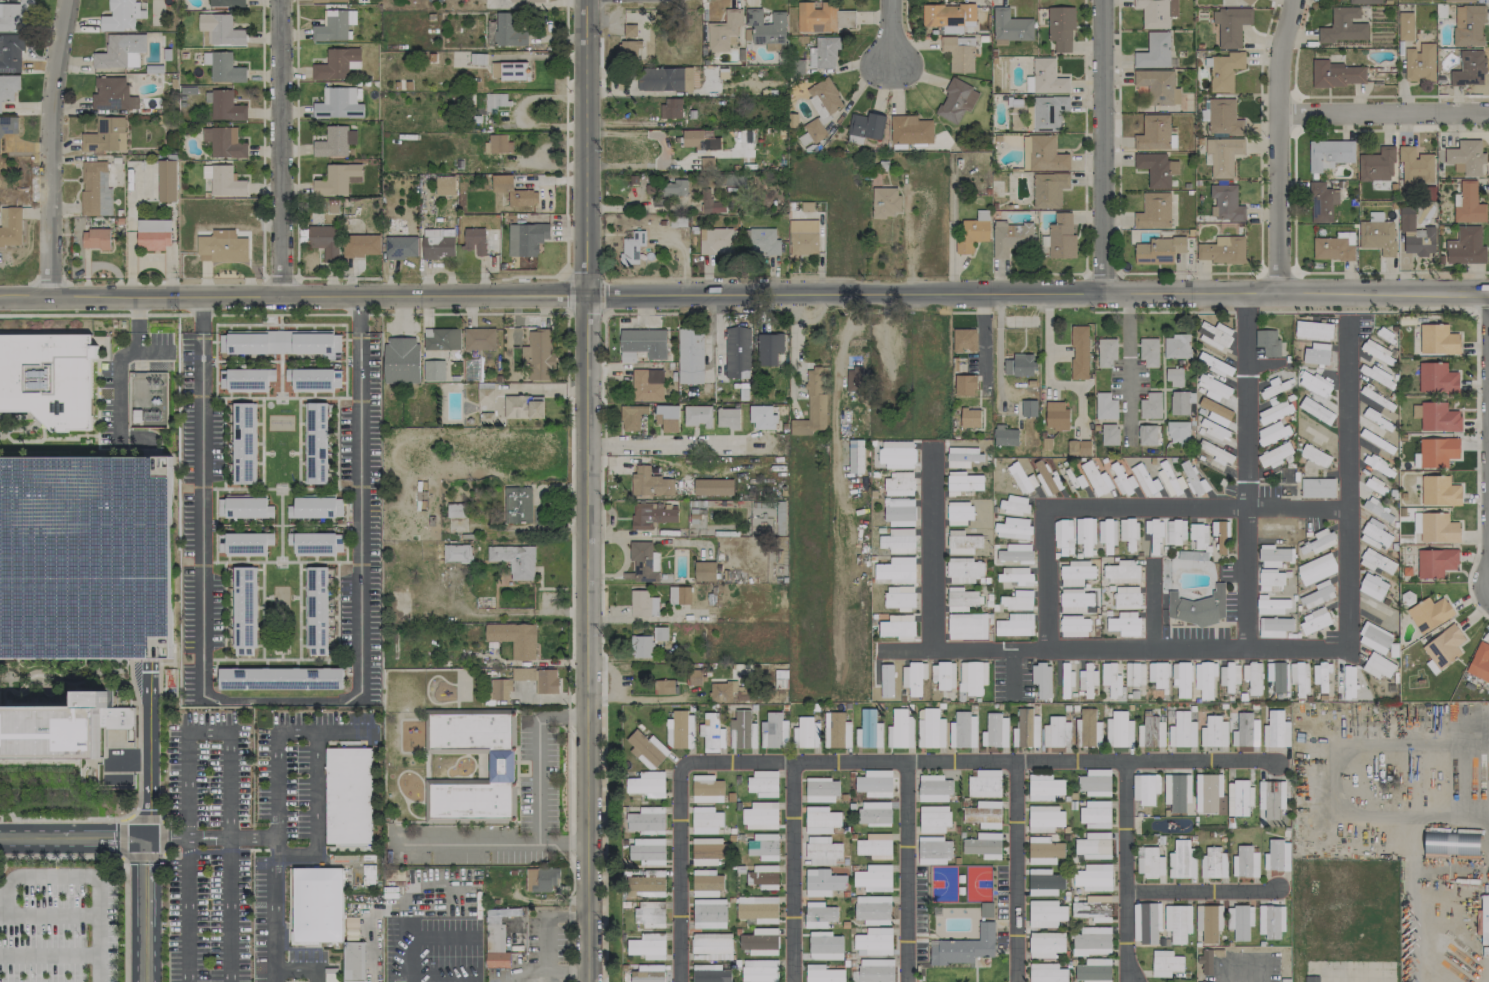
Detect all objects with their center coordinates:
building: (527, 0)
building: (1458, 0)
building: (330, 1)
building: (1364, 2)
building: (226, 3)
building: (1156, 12)
building: (14, 15)
building: (122, 15)
building: (948, 15)
building: (816, 17)
building: (845, 18)
building: (334, 25)
building: (1231, 25)
building: (1406, 25)
building: (1468, 25)
building: (1344, 26)
building: (1011, 27)
building: (1061, 28)
building: (221, 29)
building: (767, 29)
building: (630, 30)
building: (508, 31)
building: (724, 31)
road: (889, 36)
building: (121, 51)
building: (1154, 51)
building: (11, 53)
building: (823, 53)
building: (958, 55)
building: (1420, 62)
building: (337, 64)
building: (223, 67)
building: (1469, 69)
building: (508, 70)
building: (1225, 71)
building: (1337, 74)
building: (1047, 77)
building: (664, 79)
building: (1158, 86)
building: (8, 87)
building: (112, 94)
building: (824, 97)
road: (1343, 98)
building: (496, 100)
building: (956, 101)
building: (338, 104)
building: (224, 106)
building: (671, 107)
road: (1383, 109)
building: (1049, 112)
building: (1224, 117)
building: (1029, 119)
building: (8, 125)
building: (866, 125)
building: (814, 129)
building: (910, 129)
building: (1153, 133)
building: (105, 136)
building: (700, 140)
building: (334, 141)
building: (224, 142)
building: (497, 143)
road: (1277, 145)
road: (50, 147)
road: (585, 147)
road: (1100, 148)
road: (663, 150)
road: (279, 151)
building: (1042, 154)
building: (1329, 154)
building: (1222, 156)
building: (1466, 157)
building: (1377, 165)
building: (1416, 167)
building: (1154, 168)
building: (337, 179)
building: (166, 180)
building: (734, 180)
building: (223, 181)
building: (445, 185)
building: (95, 189)
building: (1049, 189)
building: (513, 191)
building: (666, 191)
building: (1321, 201)
building: (710, 202)
building: (886, 202)
building: (1225, 203)
building: (1468, 204)
building: (1154, 211)
building: (1375, 216)
building: (10, 226)
building: (1415, 233)
building: (153, 234)
building: (971, 234)
building: (803, 236)
building: (1061, 236)
building: (1346, 236)
building: (1377, 236)
building: (1010, 237)
building: (95, 238)
building: (526, 238)
building: (474, 240)
building: (324, 241)
building: (716, 241)
building: (762, 241)
building: (438, 243)
building: (361, 245)
building: (1466, 246)
building: (222, 247)
building: (401, 247)
building: (632, 247)
building: (1332, 249)
building: (1159, 250)
building: (1222, 250)
road: (10, 292)
road: (1036, 295)
road: (10, 298)
road: (302, 301)
road: (1041, 305)
road: (566, 311)
road: (1162, 311)
road: (970, 312)
road: (1247, 312)
road: (144, 314)
road: (846, 330)
building: (1313, 330)
building: (1215, 335)
building: (441, 338)
building: (479, 338)
road: (603, 338)
building: (964, 340)
building: (1438, 340)
building: (279, 342)
building: (1268, 342)
building: (642, 344)
building: (1177, 346)
road: (998, 347)
building: (768, 348)
building: (737, 352)
road: (1050, 352)
building: (1079, 352)
building: (1106, 352)
building: (1149, 352)
building: (538, 354)
building: (1317, 354)
building: (690, 355)
road: (1131, 355)
building: (401, 360)
road: (115, 363)
road: (1476, 363)
building: (1019, 365)
building: (433, 370)
road: (278, 375)
building: (1175, 377)
building: (48, 378)
building: (1437, 378)
building: (247, 379)
building: (314, 379)
building: (854, 379)
parking lot: (124, 381)
building: (1315, 384)
building: (647, 385)
building: (965, 385)
building: (485, 392)
road: (279, 397)
building: (1181, 402)
building: (813, 403)
building: (1105, 406)
building: (1151, 406)
building: (522, 407)
building: (1029, 408)
building: (698, 415)
road: (24, 416)
building: (632, 416)
building: (1056, 416)
building: (667, 417)
building: (762, 417)
building: (970, 417)
building: (1439, 417)
building: (727, 418)
building: (147, 419)
road: (8, 429)
building: (1178, 432)
building: (1110, 434)
building: (1147, 435)
building: (1005, 436)
road: (45, 438)
road: (223, 442)
road: (336, 442)
building: (244, 443)
building: (316, 443)
road: (603, 445)
road: (672, 445)
building: (1078, 447)
building: (1438, 452)
building: (896, 454)
building: (962, 456)
road: (1246, 468)
building: (1189, 473)
building: (1021, 478)
building: (1096, 479)
building: (1122, 479)
building: (1170, 479)
building: (1145, 480)
building: (965, 482)
building: (650, 483)
building: (898, 484)
building: (1375, 485)
building: (713, 486)
building: (1318, 487)
road: (237, 488)
road: (281, 488)
road: (323, 488)
building: (1440, 491)
road: (571, 503)
building: (517, 504)
building: (1014, 505)
building: (244, 507)
building: (316, 507)
road: (1129, 508)
building: (899, 509)
building: (456, 510)
building: (1378, 510)
building: (959, 512)
building: (652, 515)
road: (214, 524)
road: (345, 525)
building: (1436, 527)
building: (1013, 528)
building: (1175, 532)
building: (1276, 533)
building: (1374, 534)
building: (1107, 535)
building: (1085, 536)
building: (1155, 536)
building: (1199, 536)
building: (1129, 539)
building: (898, 540)
building: (962, 542)
building: (247, 543)
building: (316, 543)
building: (1318, 543)
building: (1221, 544)
road: (932, 549)
building: (457, 553)
building: (1015, 553)
building: (1192, 555)
building: (86, 556)
parking garage: (86, 556)
building: (1274, 556)
building: (515, 560)
road: (236, 561)
road: (323, 561)
building: (1376, 561)
building: (643, 562)
building: (1436, 562)
building: (1316, 568)
building: (704, 569)
building: (896, 570)
building: (963, 570)
building: (1076, 572)
building: (1122, 572)
building: (1016, 575)
building: (1271, 580)
building: (1372, 586)
building: (1318, 594)
building: (679, 595)
building: (899, 596)
building: (1127, 597)
building: (961, 599)
building: (1017, 600)
building: (1076, 601)
building: (643, 603)
road: (1155, 605)
building: (1272, 605)
building: (1197, 607)
road: (336, 609)
road: (223, 610)
building: (244, 610)
building: (316, 610)
building: (1430, 613)
building: (1315, 621)
building: (1125, 623)
building: (1015, 625)
building: (897, 626)
building: (967, 626)
building: (1074, 626)
building: (1274, 626)
building: (660, 633)
building: (514, 638)
road: (583, 638)
building: (1374, 638)
road: (298, 639)
building: (641, 646)
road: (1271, 646)
building: (1444, 647)
road: (327, 658)
road: (228, 659)
building: (1480, 662)
building: (1378, 665)
road: (609, 669)
building: (1135, 674)
building: (1158, 674)
building: (943, 675)
building: (1321, 675)
building: (1229, 676)
building: (1276, 676)
building: (913, 677)
building: (1252, 677)
building: (1299, 677)
building: (280, 678)
building: (538, 678)
building: (884, 678)
building: (1205, 678)
building: (1087, 679)
building: (1181, 679)
building: (1042, 680)
building: (1112, 682)
building: (1349, 682)
building: (663, 686)
building: (499, 689)
building: (729, 691)
road: (637, 696)
road: (280, 700)
road: (602, 719)
building: (1089, 728)
building: (931, 729)
building: (1026, 729)
building: (680, 730)
building: (836, 730)
building: (868, 730)
building: (900, 730)
building: (963, 730)
building: (1119, 730)
building: (1276, 730)
building: (742, 731)
building: (773, 731)
building: (995, 731)
building: (1182, 731)
building: (1214, 731)
building: (1246, 731)
building: (712, 732)
building: (1151, 732)
building: (806, 733)
building: (1056, 733)
building: (73, 734)
building: (477, 738)
road: (1344, 746)
building: (646, 747)
road: (148, 751)
road: (906, 759)
road: (1202, 759)
road: (185, 770)
road: (314, 774)
road: (537, 782)
building: (1095, 782)
building: (763, 783)
building: (875, 783)
building: (647, 784)
building: (985, 784)
building: (1044, 787)
building: (934, 788)
building: (1145, 788)
building: (706, 789)
building: (821, 790)
building: (1177, 791)
building: (1209, 794)
building: (348, 795)
building: (1239, 797)
building: (1271, 798)
building: (465, 799)
road: (278, 812)
building: (875, 813)
building: (984, 814)
building: (1095, 814)
building: (761, 816)
road: (1484, 816)
road: (144, 817)
building: (1044, 818)
road: (62, 819)
building: (646, 819)
building: (934, 819)
building: (706, 820)
building: (821, 820)
parking lot: (292, 828)
road: (251, 832)
road: (272, 835)
road: (190, 836)
road: (72, 837)
parking lot: (245, 837)
road: (251, 841)
road: (466, 843)
building: (1451, 843)
building: (874, 844)
building: (984, 845)
building: (764, 846)
road: (343, 847)
building: (1092, 848)
road: (257, 849)
road: (213, 850)
building: (822, 850)
building: (934, 850)
building: (1044, 850)
building: (648, 851)
building: (706, 851)
building: (1277, 855)
road: (227, 856)
road: (170, 857)
road: (122, 860)
road: (141, 860)
building: (1182, 860)
road: (55, 861)
road: (298, 862)
building: (1149, 862)
building: (1245, 862)
building: (1213, 863)
road: (907, 870)
road: (1015, 870)
road: (791, 871)
road: (83, 872)
building: (764, 876)
building: (1094, 877)
building: (874, 878)
building: (543, 880)
building: (707, 880)
building: (823, 882)
building: (1044, 882)
building: (643, 886)
road: (1202, 887)
building: (705, 893)
road: (1408, 899)
building: (317, 903)
building: (1093, 908)
road: (145, 909)
building: (758, 909)
building: (873, 909)
building: (1046, 913)
building: (646, 914)
building: (709, 914)
road: (51, 915)
building: (819, 915)
road: (187, 917)
road: (280, 917)
road: (273, 918)
building: (1485, 919)
building: (1240, 921)
building: (1271, 921)
building: (1146, 922)
building: (1178, 922)
building: (1209, 922)
road: (285, 923)
road: (542, 934)
road: (421, 935)
building: (760, 941)
building: (874, 941)
building: (1092, 941)
building: (1046, 944)
road: (306, 946)
building: (648, 946)
building: (712, 946)
building: (825, 946)
building: (964, 947)
road: (49, 953)
building: (497, 959)
building: (1206, 961)
building: (354, 962)
building: (1166, 964)
road: (301, 969)
building: (876, 970)
building: (1094, 970)
road: (562, 971)
building: (760, 971)
road: (1243, 972)
road: (445, 973)
building: (710, 973)
building: (1047, 973)
building: (823, 974)
building: (647, 976)
building: (1313, 979)

